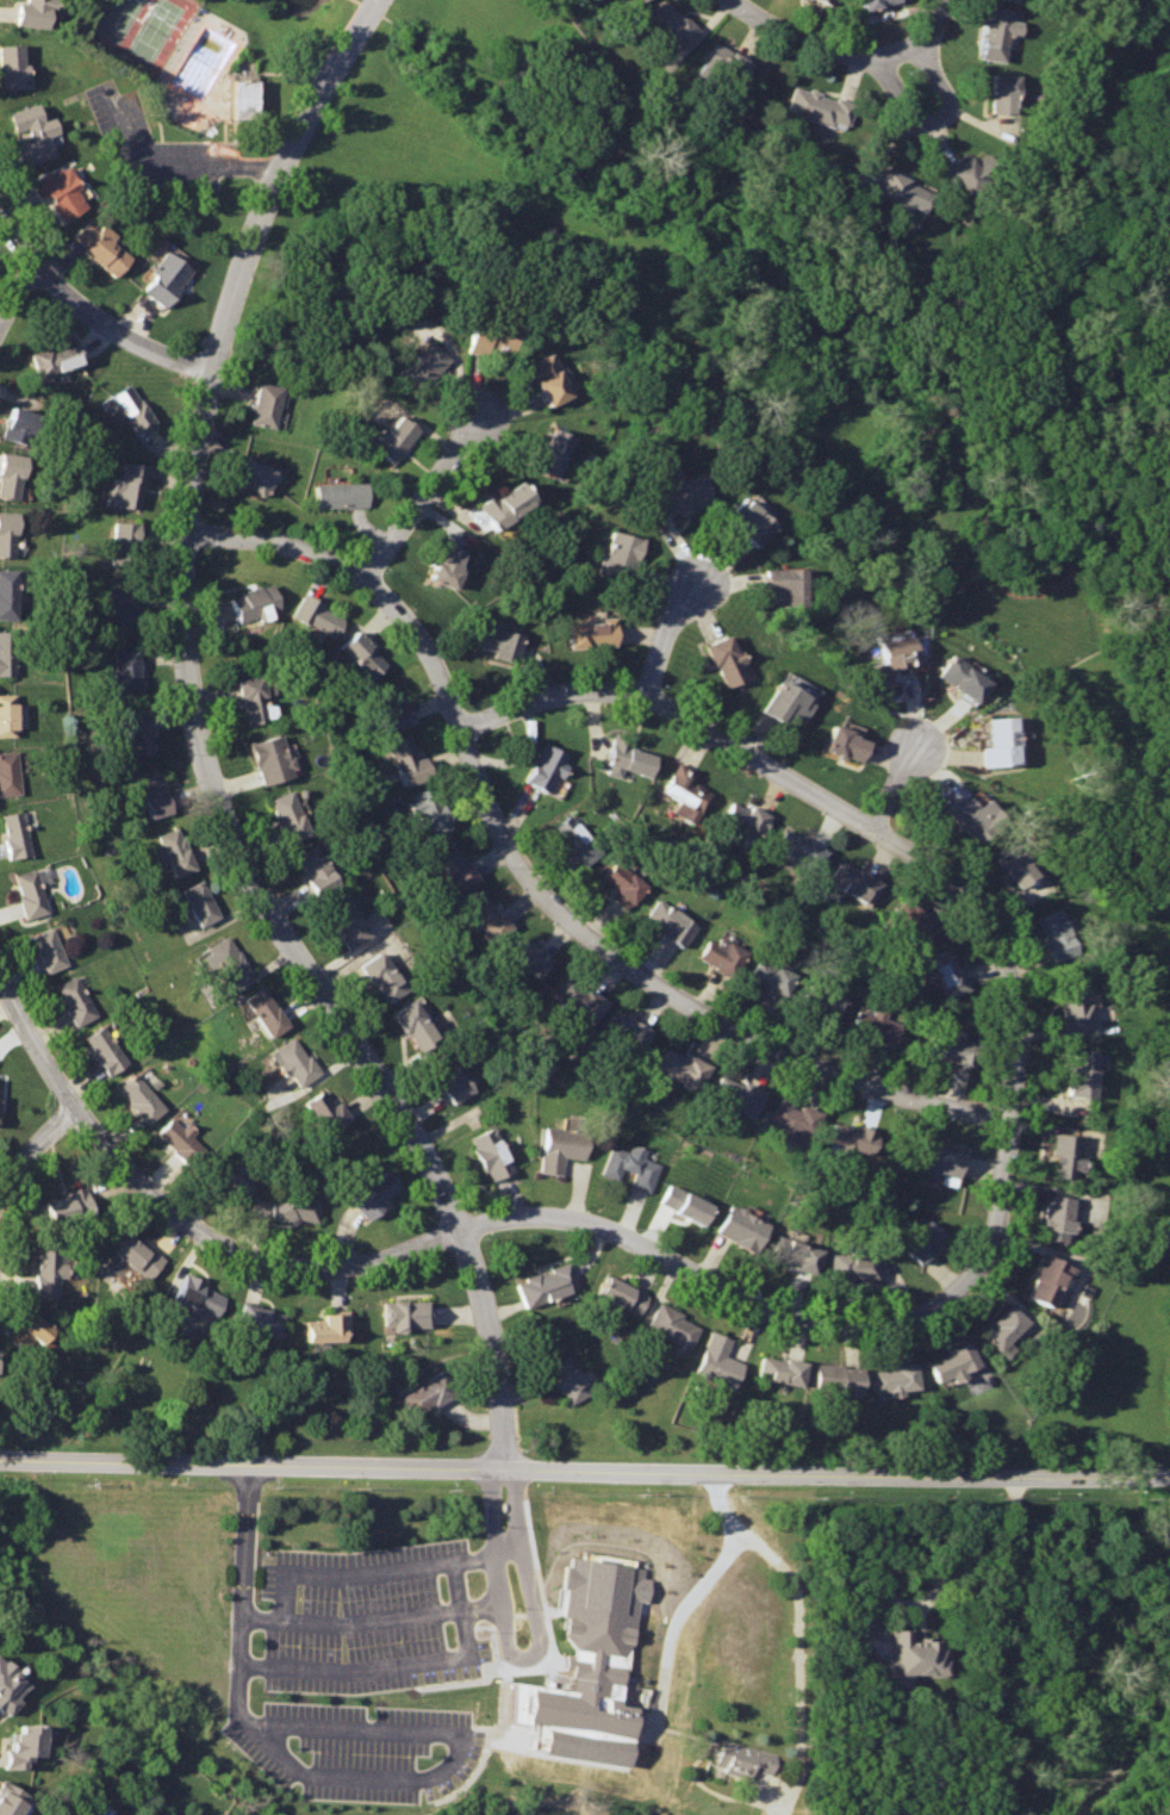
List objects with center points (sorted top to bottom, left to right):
building: (636, 0)
building: (829, 1)
building: (875, 2)
building: (31, 12)
road: (935, 21)
building: (673, 24)
park: (141, 26)
building: (998, 33)
road: (820, 44)
building: (722, 63)
building: (11, 64)
building: (1004, 91)
building: (244, 98)
building: (815, 105)
road: (932, 122)
building: (35, 132)
parking lot: (156, 147)
road: (181, 166)
building: (975, 172)
building: (902, 188)
building: (61, 191)
road: (17, 238)
building: (101, 245)
building: (167, 276)
road: (15, 293)
road: (117, 330)
building: (490, 336)
building: (55, 358)
building: (423, 362)
building: (550, 380)
building: (266, 405)
building: (131, 406)
building: (19, 422)
building: (396, 437)
building: (552, 450)
building: (10, 473)
building: (253, 473)
building: (131, 485)
building: (679, 493)
building: (340, 495)
road: (422, 495)
building: (505, 505)
building: (751, 520)
building: (7, 534)
building: (125, 543)
building: (620, 555)
building: (447, 565)
building: (784, 586)
building: (7, 593)
building: (255, 602)
building: (122, 609)
building: (316, 615)
building: (592, 633)
road: (674, 639)
building: (499, 641)
building: (7, 653)
building: (361, 653)
building: (727, 660)
building: (892, 661)
building: (130, 671)
building: (963, 678)
building: (255, 698)
building: (786, 702)
building: (390, 708)
building: (8, 713)
building: (138, 733)
building: (847, 740)
building: (1002, 745)
road: (204, 751)
building: (630, 754)
road: (754, 754)
building: (273, 759)
building: (409, 760)
building: (543, 764)
building: (10, 771)
building: (685, 788)
road: (897, 788)
building: (155, 792)
building: (430, 808)
building: (290, 815)
building: (745, 816)
building: (973, 816)
building: (17, 835)
building: (574, 837)
building: (801, 845)
building: (173, 851)
building: (454, 864)
building: (1019, 864)
building: (316, 869)
building: (851, 881)
building: (621, 884)
road: (535, 885)
building: (30, 893)
building: (198, 902)
building: (484, 915)
building: (347, 920)
building: (670, 920)
building: (913, 920)
building: (1057, 934)
building: (48, 950)
building: (717, 951)
building: (528, 957)
building: (229, 958)
building: (947, 970)
building: (385, 976)
building: (771, 976)
building: (579, 1000)
building: (821, 1000)
building: (75, 1001)
building: (1075, 1002)
building: (265, 1008)
building: (877, 1023)
building: (415, 1026)
building: (630, 1028)
road: (31, 1042)
building: (954, 1043)
building: (105, 1050)
building: (294, 1063)
building: (685, 1068)
building: (1082, 1073)
building: (449, 1077)
building: (139, 1096)
building: (741, 1098)
building: (326, 1111)
building: (792, 1121)
building: (854, 1136)
building: (180, 1137)
road: (32, 1146)
building: (562, 1146)
building: (493, 1154)
building: (1064, 1155)
building: (940, 1158)
building: (631, 1167)
road: (1003, 1167)
building: (231, 1179)
building: (375, 1194)
building: (686, 1204)
building: (67, 1205)
building: (294, 1206)
building: (1056, 1217)
building: (743, 1229)
road: (452, 1236)
building: (925, 1242)
building: (798, 1254)
building: (132, 1257)
building: (858, 1267)
building: (48, 1269)
building: (1047, 1278)
building: (547, 1282)
building: (622, 1293)
building: (199, 1295)
building: (406, 1312)
building: (260, 1318)
building: (672, 1325)
building: (1004, 1326)
building: (325, 1329)
building: (29, 1332)
building: (720, 1359)
building: (952, 1362)
building: (782, 1368)
building: (839, 1375)
building: (896, 1376)
building: (567, 1378)
building: (430, 1392)
road: (251, 1463)
road: (836, 1475)
road: (493, 1477)
road: (243, 1540)
road: (491, 1553)
road: (939, 1566)
road: (350, 1573)
road: (708, 1574)
parking lot: (366, 1617)
road: (368, 1618)
road: (531, 1649)
building: (914, 1655)
road: (798, 1657)
road: (398, 1662)
road: (236, 1665)
building: (583, 1673)
building: (10, 1687)
park: (1114, 1693)
road: (354, 1726)
building: (20, 1746)
parking lot: (355, 1747)
building: (741, 1759)
road: (348, 1776)
building: (10, 1801)

